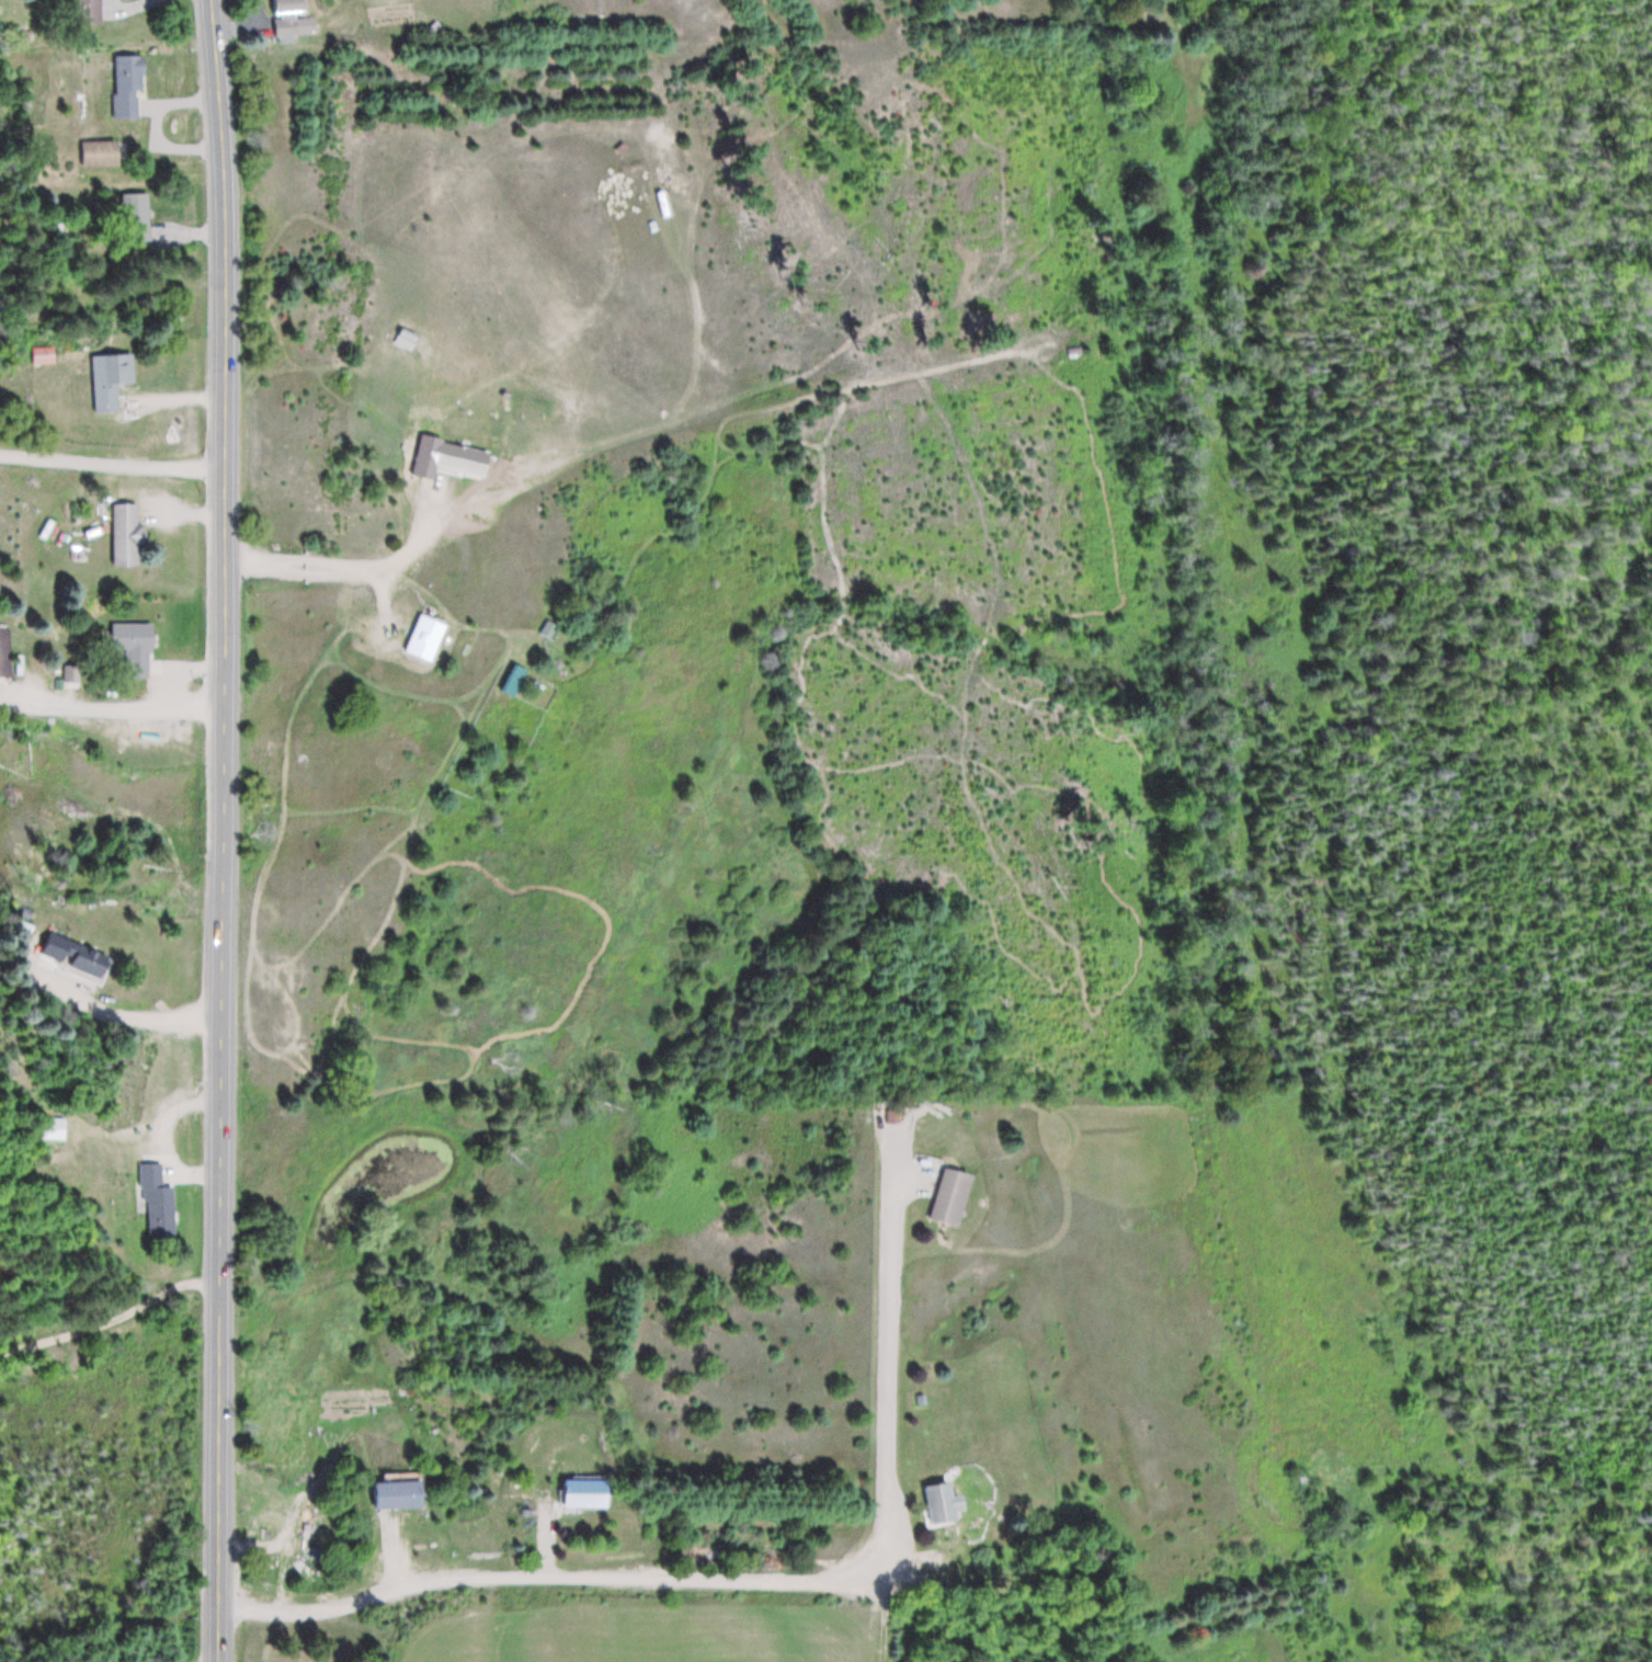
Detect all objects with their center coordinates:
park: (1226, 2)
building: (93, 11)
building: (290, 16)
building: (129, 87)
building: (103, 155)
building: (137, 217)
building: (64, 226)
building: (46, 355)
building: (111, 379)
building: (464, 459)
building: (128, 536)
building: (428, 637)
building: (135, 648)
building: (5, 652)
building: (516, 681)
road: (221, 807)
building: (78, 956)
building: (953, 1197)
building: (160, 1200)
road: (109, 1317)
building: (400, 1493)
building: (586, 1493)
building: (943, 1502)
road: (762, 1586)
road: (217, 1638)

